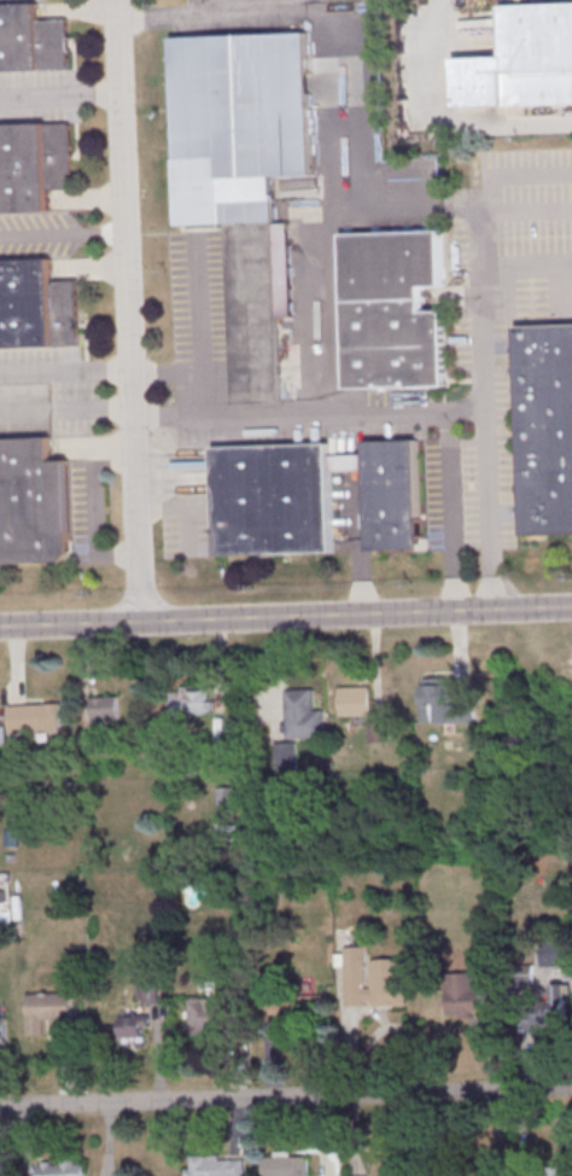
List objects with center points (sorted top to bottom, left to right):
road: (203, 14)
building: (30, 39)
building: (521, 60)
road: (59, 95)
road: (443, 118)
building: (241, 126)
building: (34, 163)
road: (518, 175)
road: (62, 238)
road: (483, 260)
road: (527, 263)
building: (36, 305)
building: (393, 309)
building: (253, 310)
road: (127, 312)
road: (198, 334)
road: (64, 372)
road: (65, 407)
road: (309, 413)
building: (545, 426)
building: (349, 460)
building: (393, 494)
building: (274, 500)
building: (33, 502)
road: (450, 511)
road: (285, 617)
building: (187, 703)
building: (356, 704)
building: (442, 705)
building: (104, 709)
building: (34, 716)
building: (304, 717)
building: (380, 734)
building: (286, 757)
building: (226, 802)
building: (555, 954)
building: (373, 982)
building: (148, 992)
building: (461, 1002)
building: (553, 1007)
building: (52, 1015)
building: (205, 1024)
building: (133, 1027)
building: (4, 1034)
road: (66, 1072)
road: (285, 1096)
building: (387, 1165)
building: (285, 1166)
building: (216, 1168)
building: (63, 1170)
building: (357, 1175)
building: (548, 1175)

